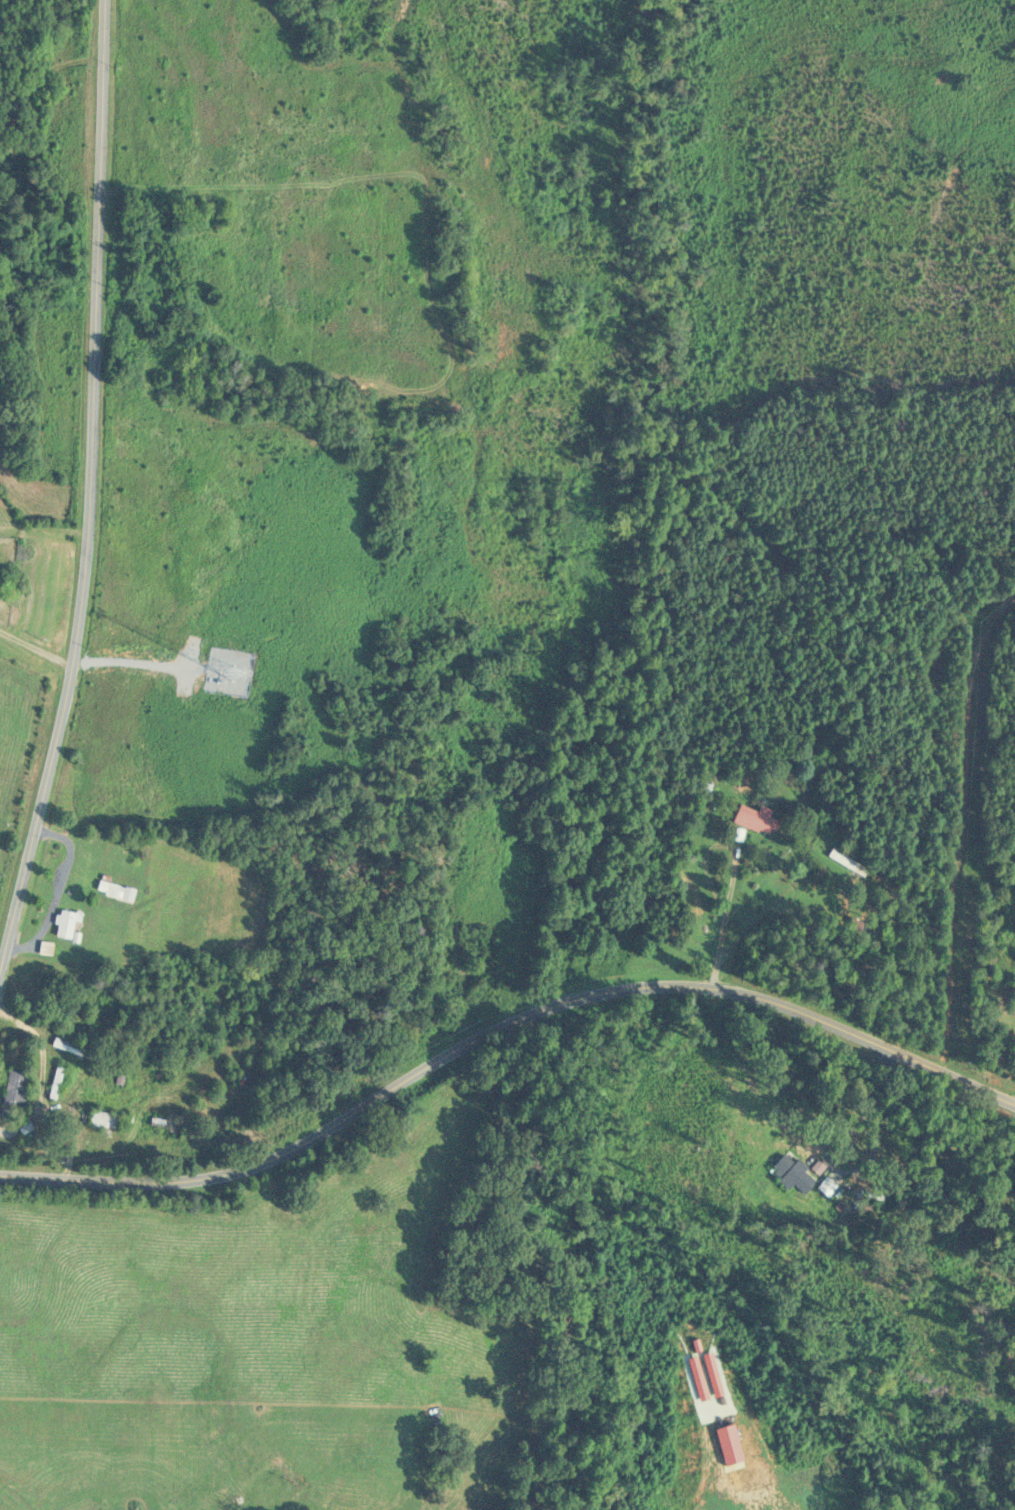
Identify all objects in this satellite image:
road: (90, 491)
road: (35, 648)
building: (756, 820)
building: (845, 861)
road: (59, 890)
building: (116, 891)
road: (724, 920)
building: (67, 924)
road: (506, 1035)
building: (72, 1049)
building: (14, 1093)
building: (104, 1120)
building: (169, 1124)
road: (8, 1131)
building: (827, 1187)

